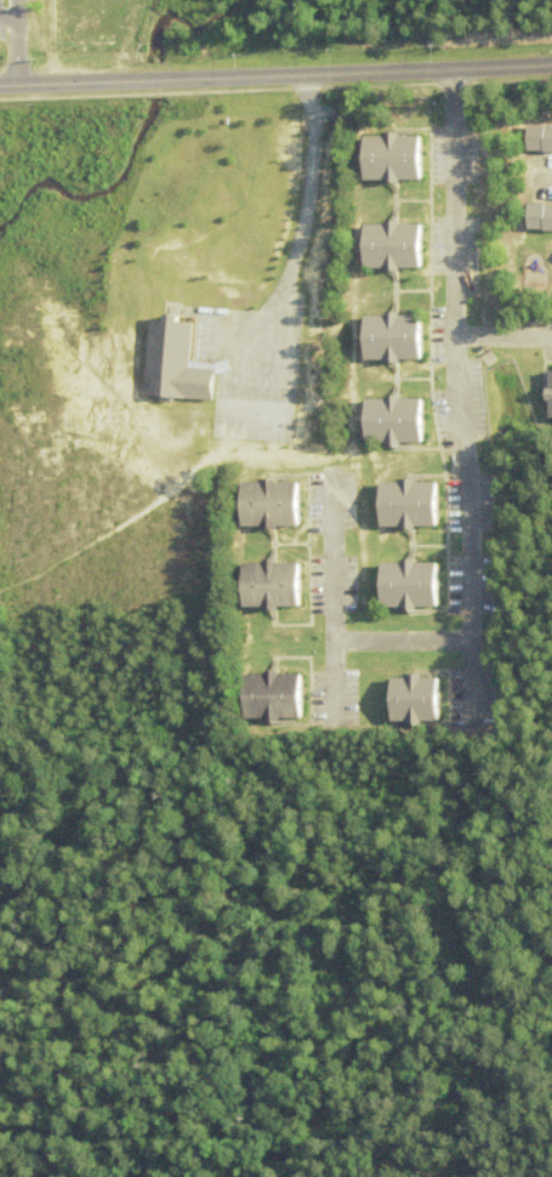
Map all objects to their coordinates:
park: (523, 33)
road: (275, 75)
building: (535, 140)
building: (385, 159)
road: (545, 176)
building: (535, 218)
road: (301, 221)
building: (385, 248)
building: (385, 339)
road: (502, 339)
building: (171, 364)
road: (457, 393)
building: (546, 396)
building: (387, 422)
building: (402, 505)
building: (262, 506)
building: (263, 586)
building: (402, 587)
road: (331, 601)
road: (400, 642)
building: (266, 698)
building: (408, 701)

